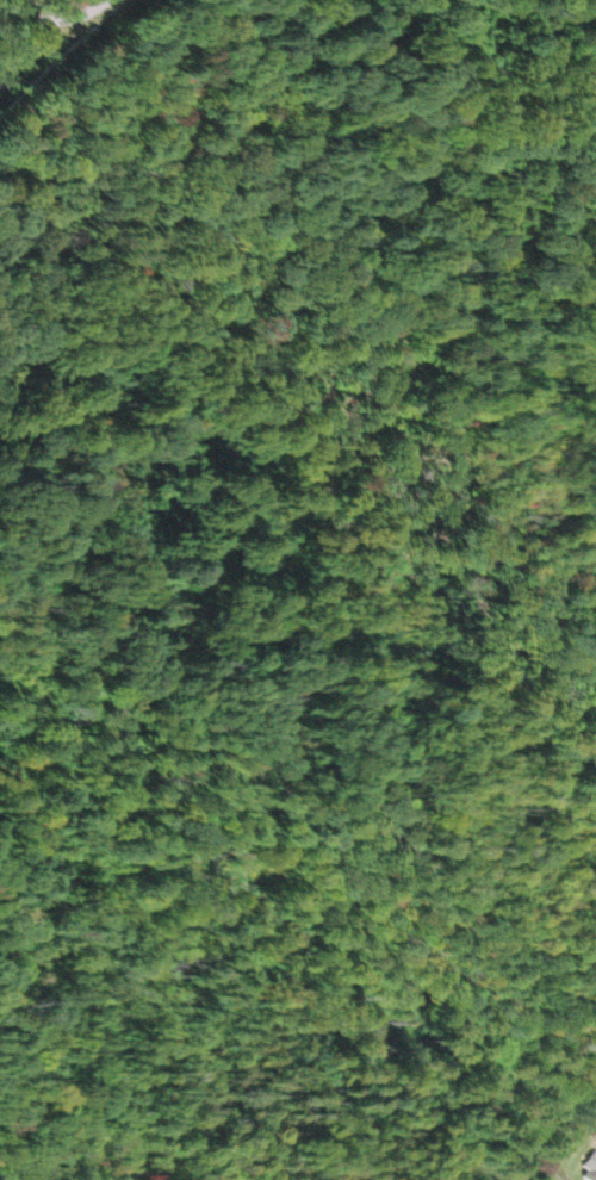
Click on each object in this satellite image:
building: (591, 1170)

